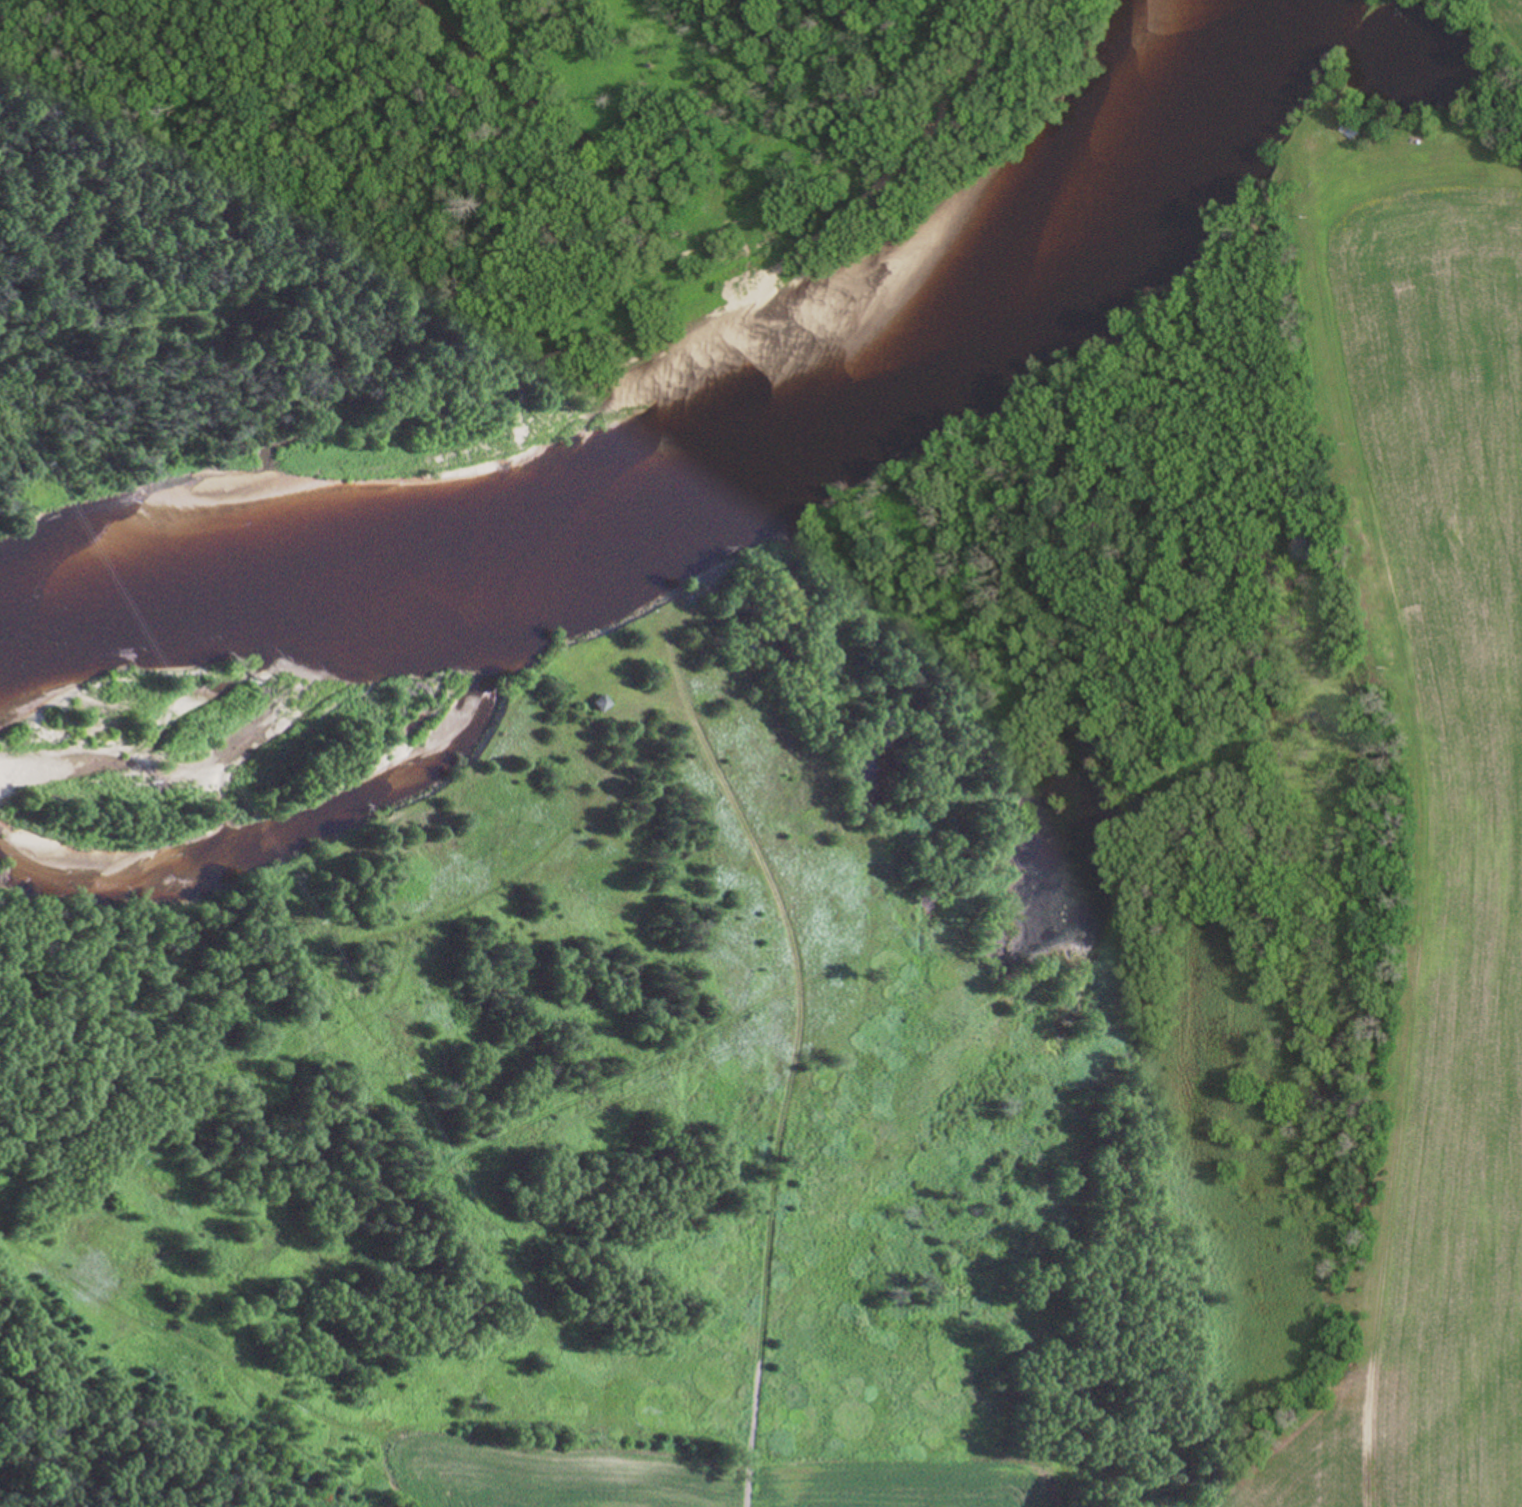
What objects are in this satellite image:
river: (710, 447)
building: (598, 701)

